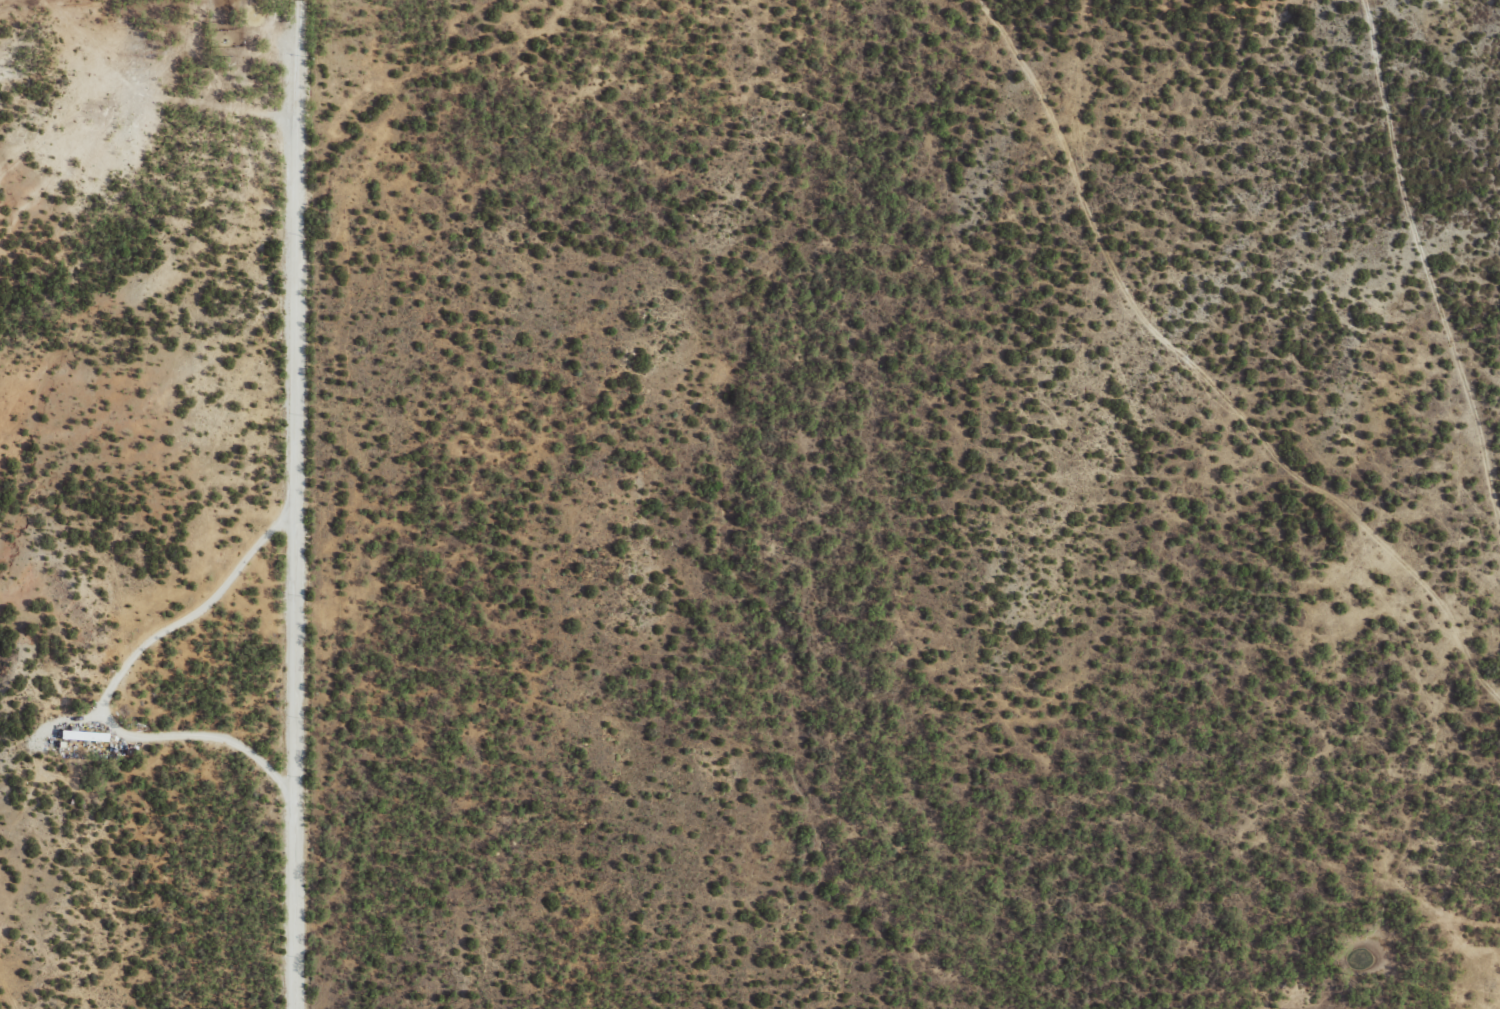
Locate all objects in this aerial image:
road: (1286, 358)
building: (97, 736)

